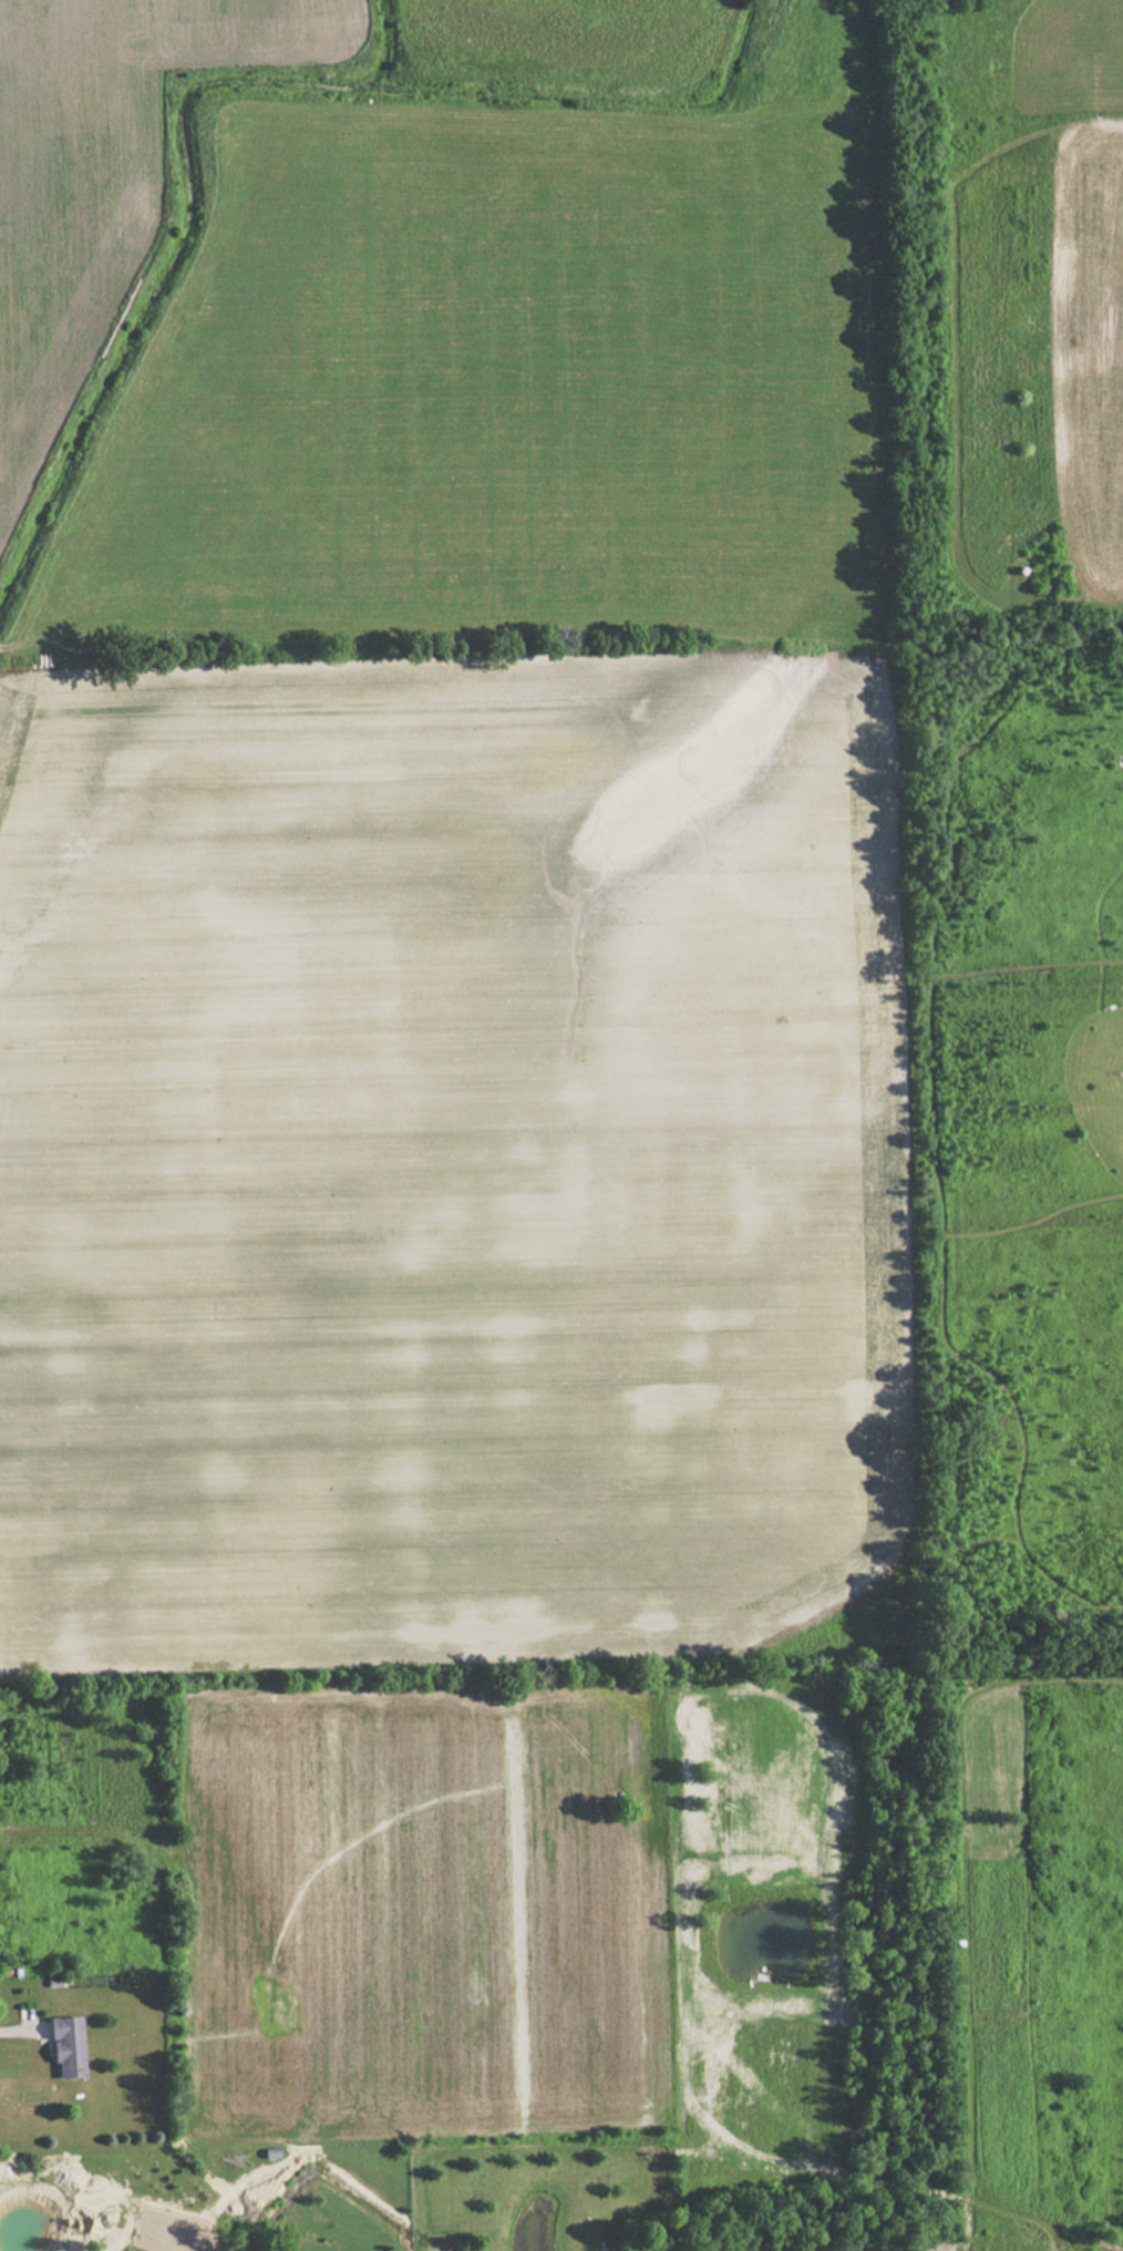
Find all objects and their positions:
building: (66, 2046)

